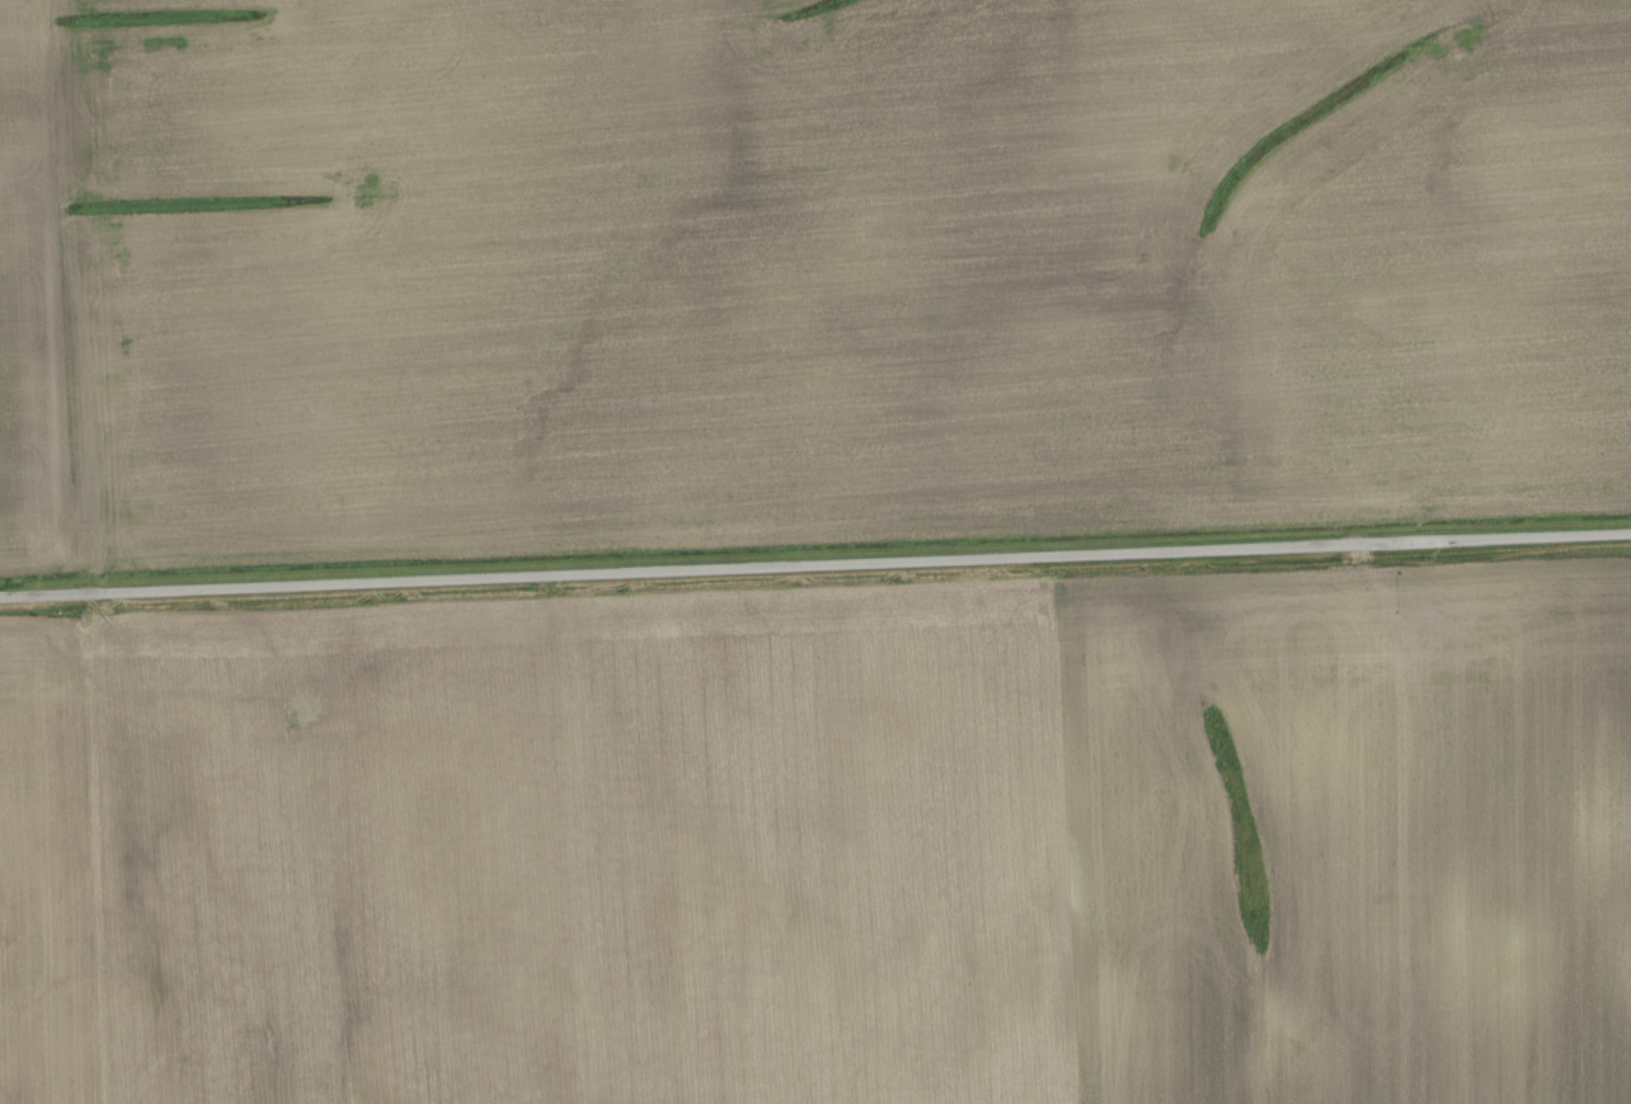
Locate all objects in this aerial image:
road: (816, 564)
road: (288, 844)

